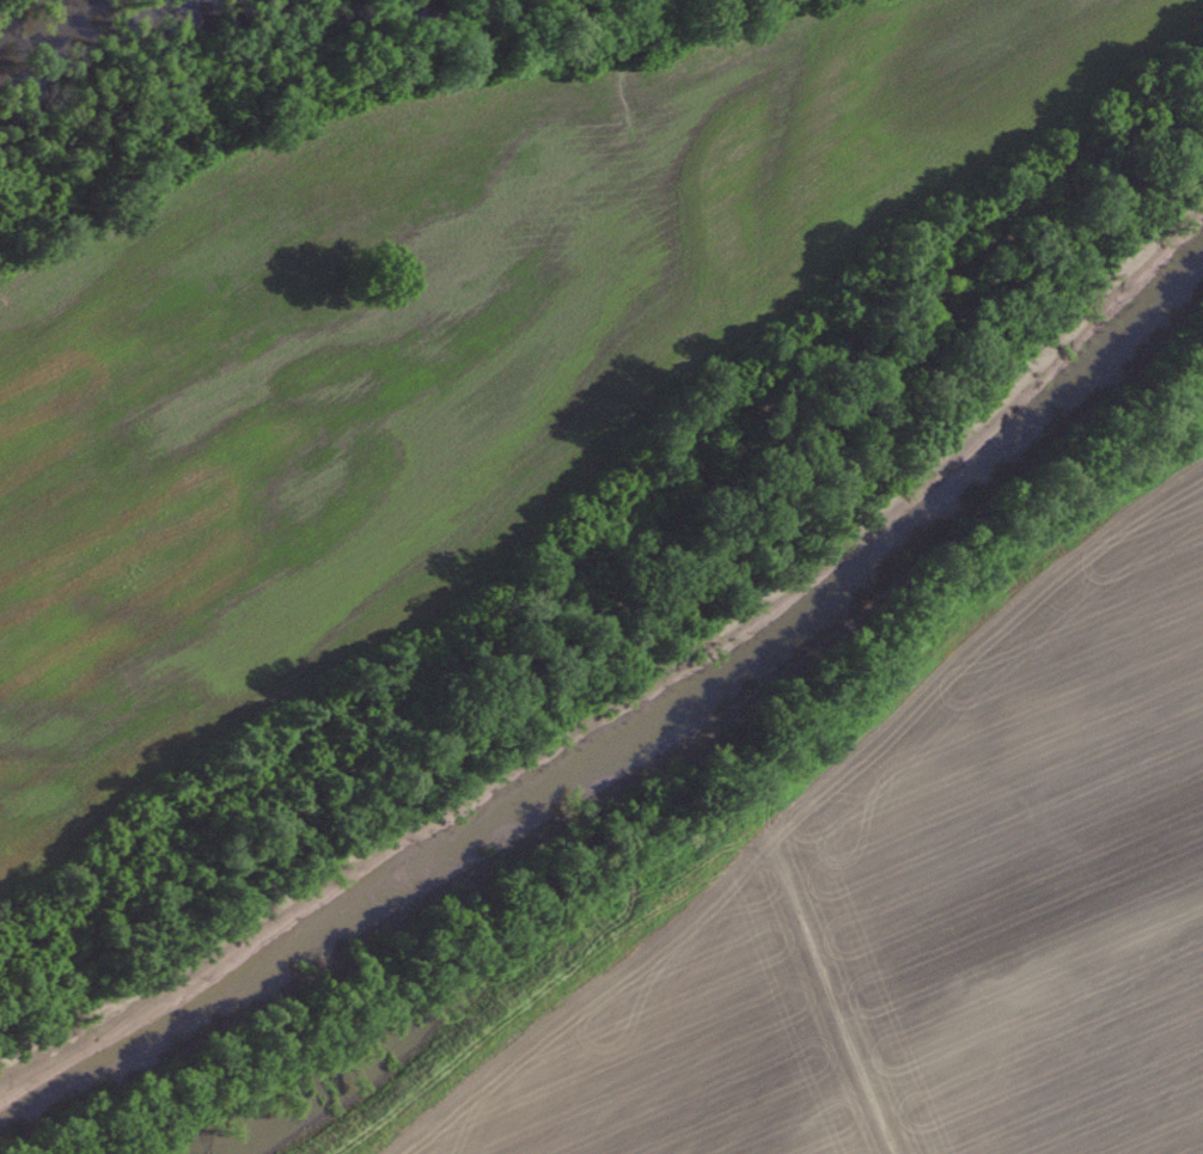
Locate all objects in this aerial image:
road: (825, 1010)

